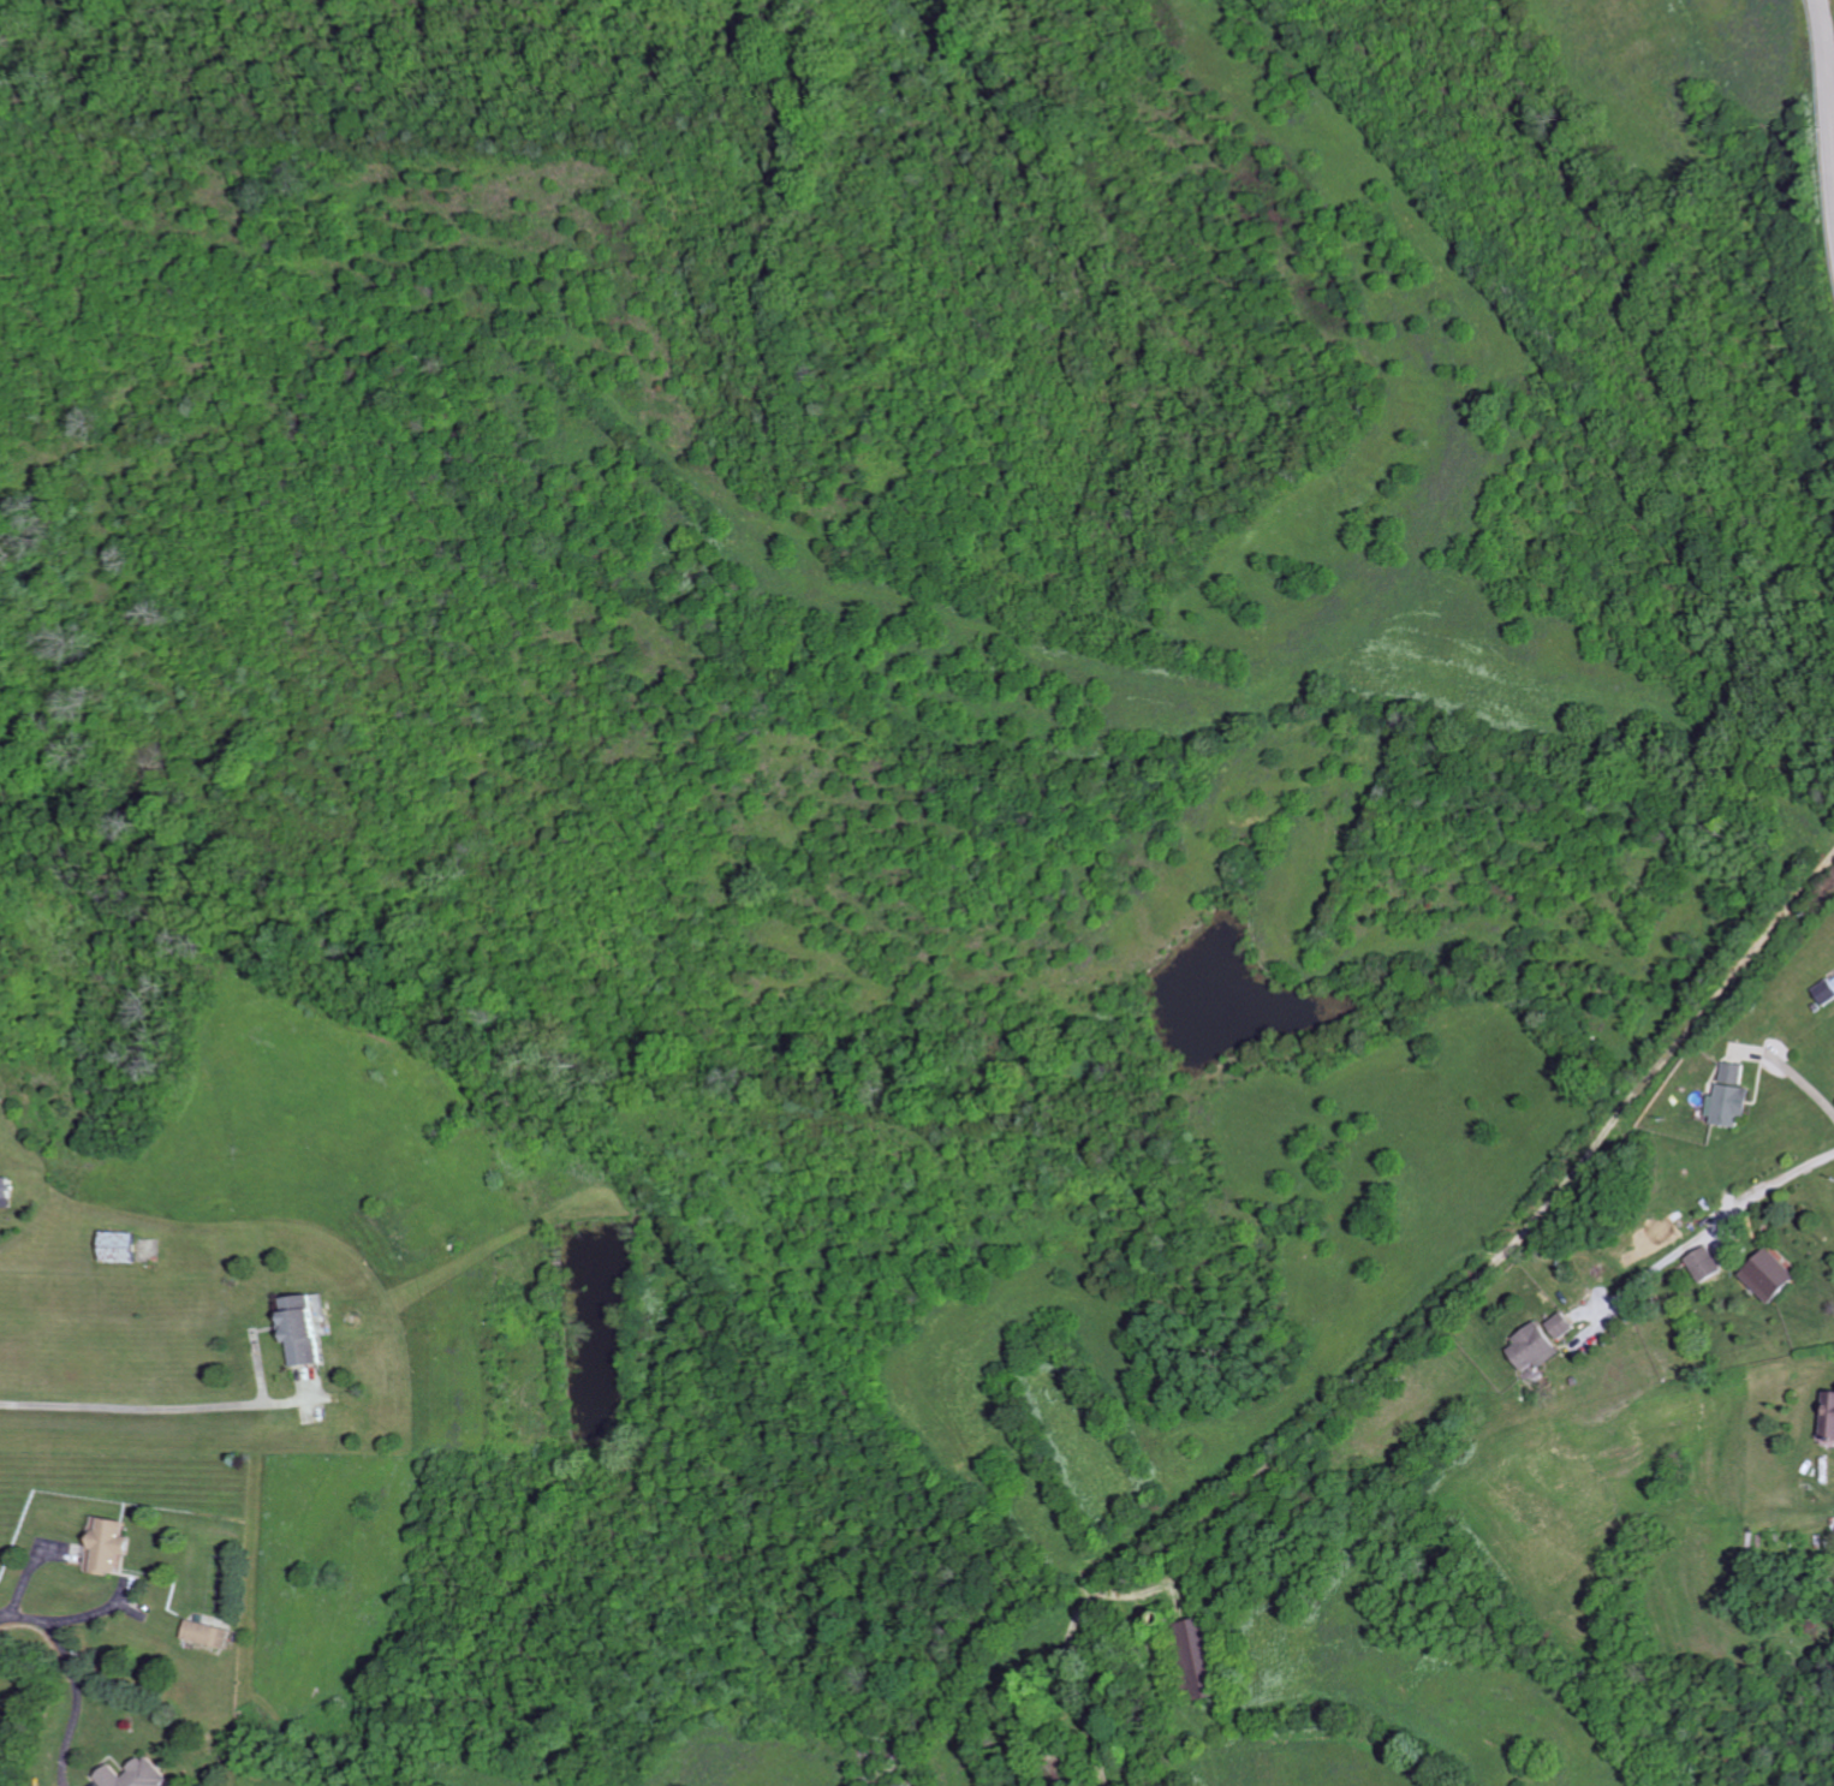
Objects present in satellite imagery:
road: (1828, 52)
building: (1827, 992)
road: (1802, 1080)
building: (1733, 1096)
building: (8, 1191)
road: (1711, 1227)
building: (125, 1245)
road: (1505, 1252)
building: (1709, 1263)
building: (1775, 1274)
building: (1565, 1324)
building: (1537, 1346)
road: (154, 1403)
building: (1830, 1412)
building: (113, 1546)
building: (212, 1632)
building: (1208, 1657)
road: (78, 1667)
building: (141, 1774)

